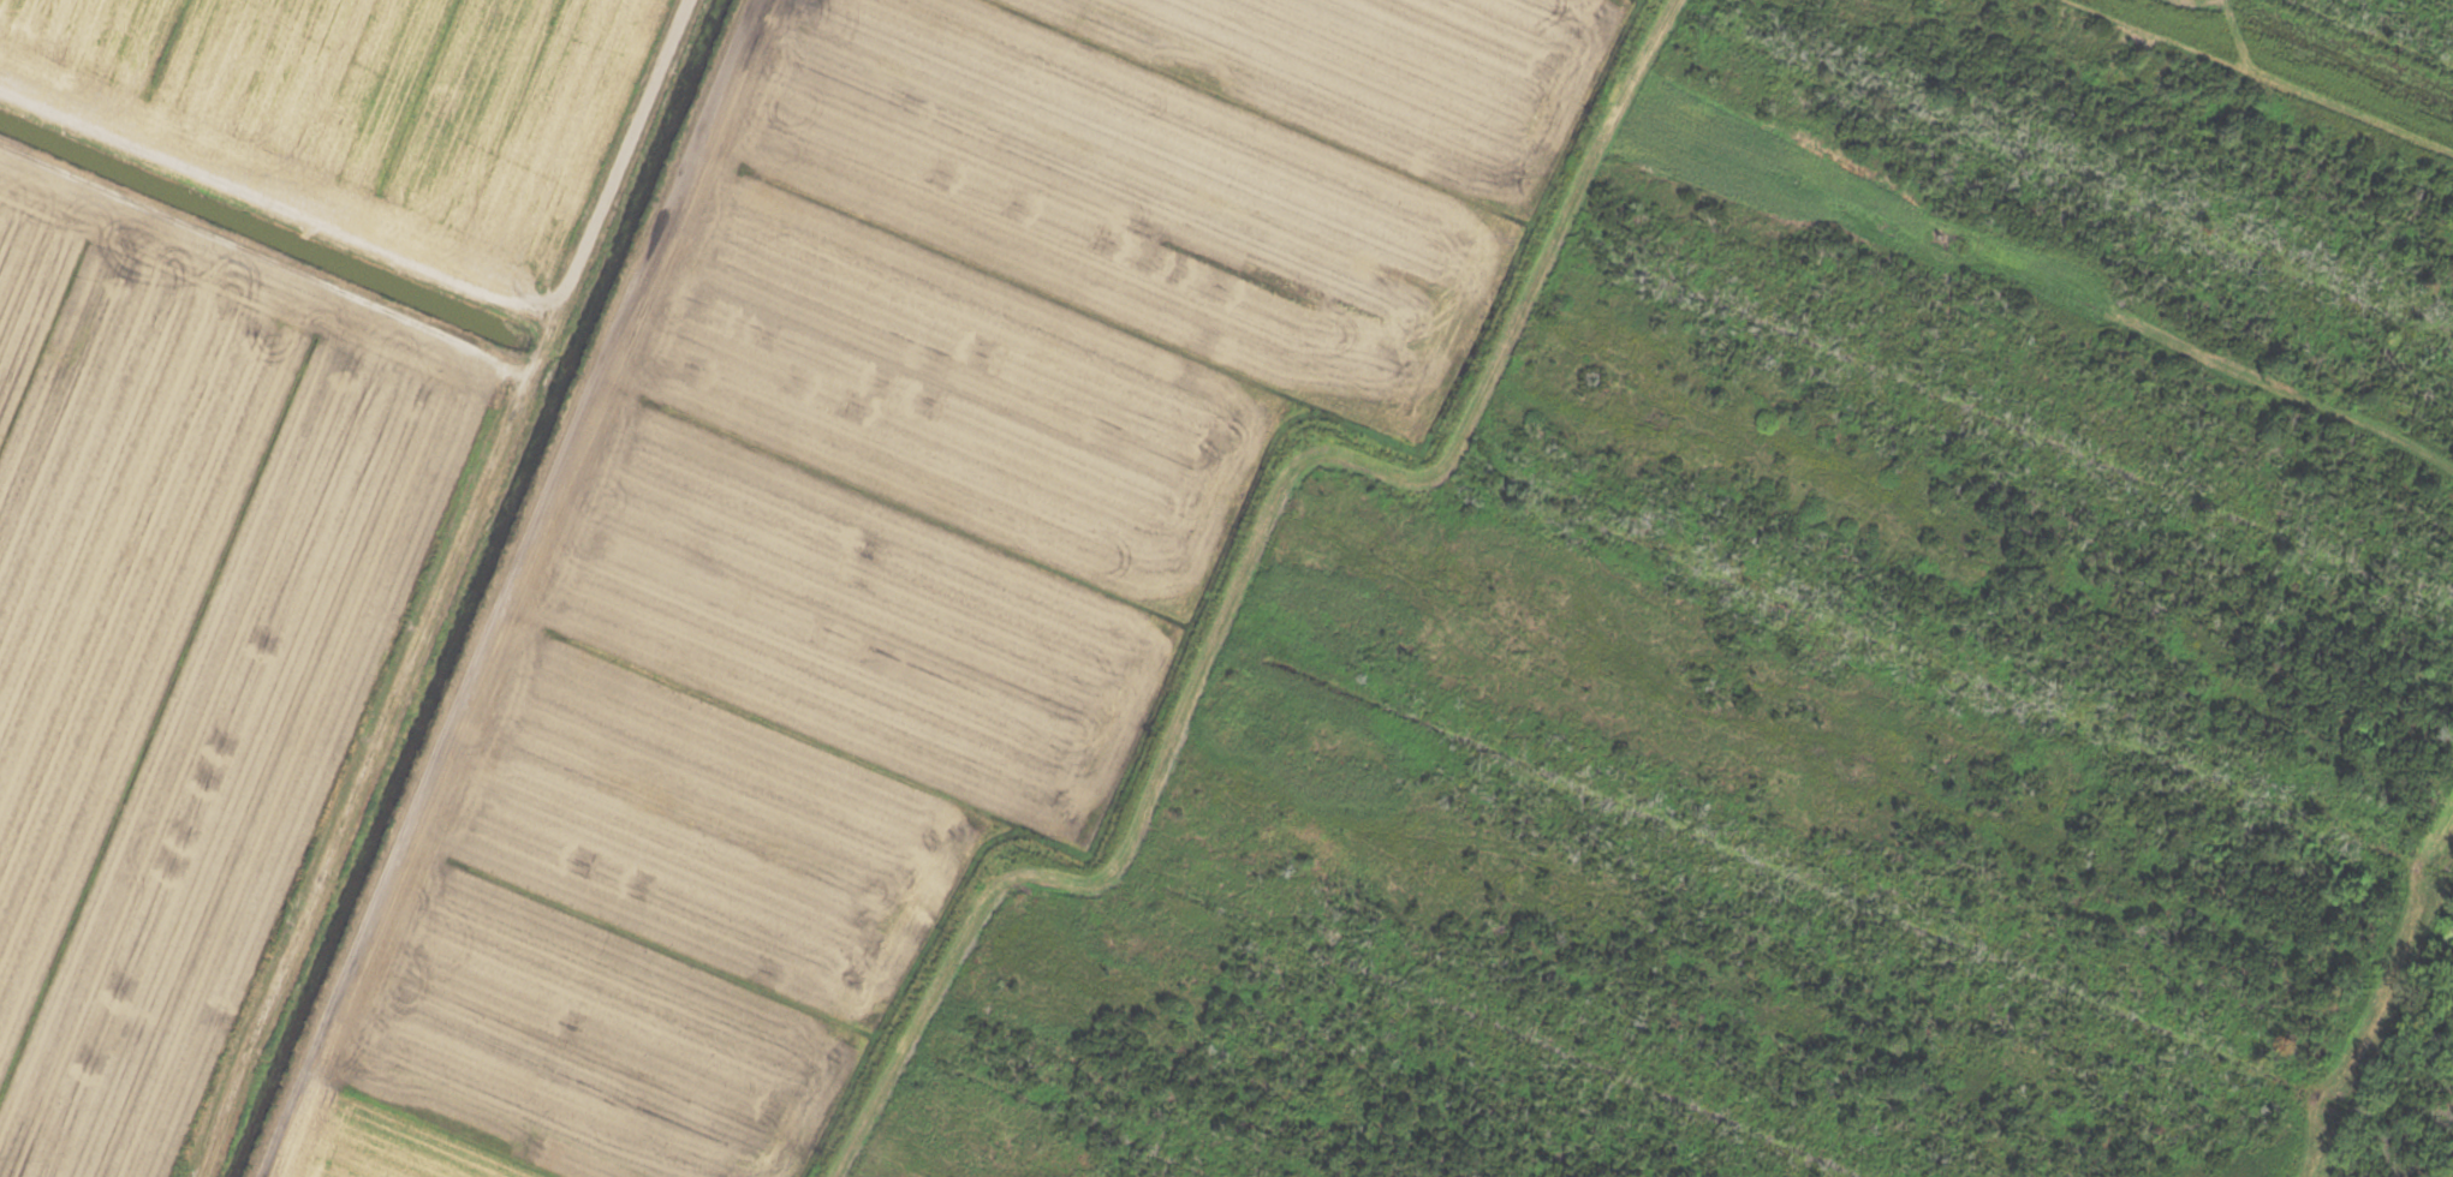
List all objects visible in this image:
crop: (644, 515)
road: (440, 588)
road: (2381, 1016)

